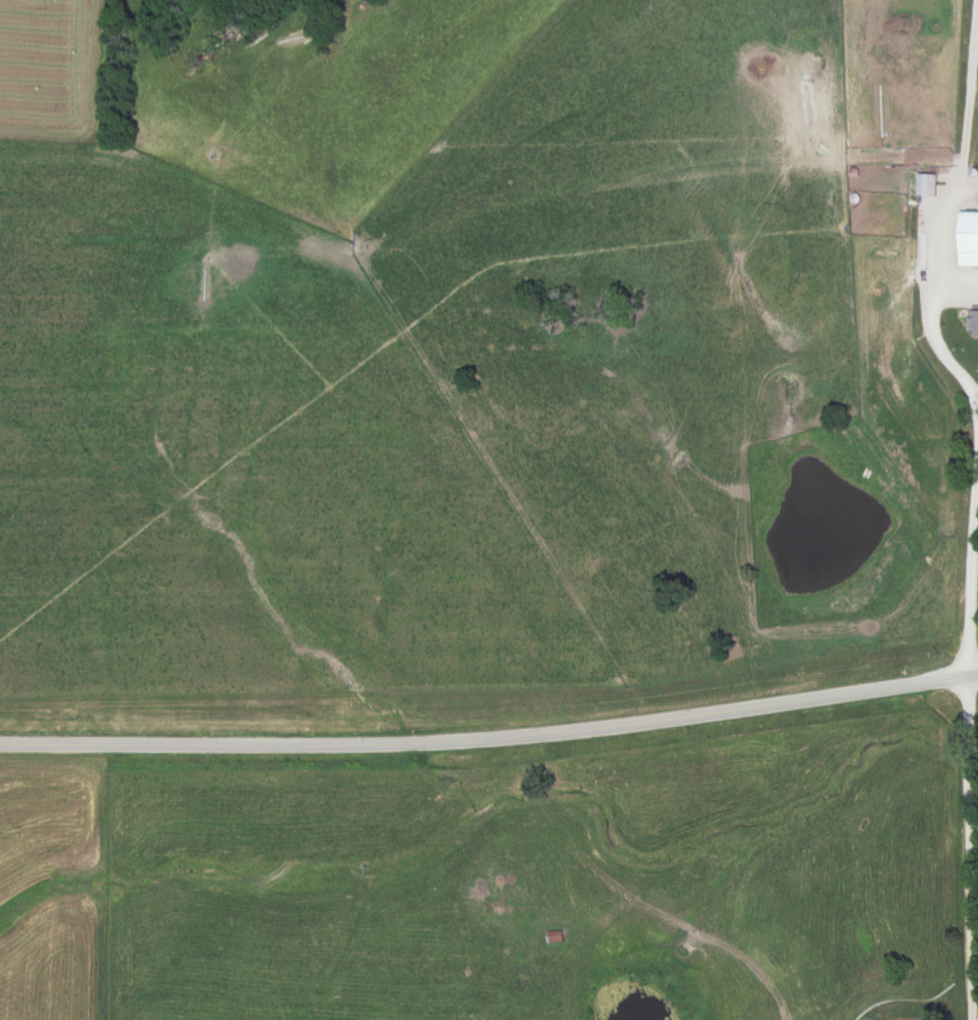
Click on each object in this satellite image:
building: (927, 186)
building: (968, 242)
building: (973, 324)
road: (968, 685)
road: (491, 741)

